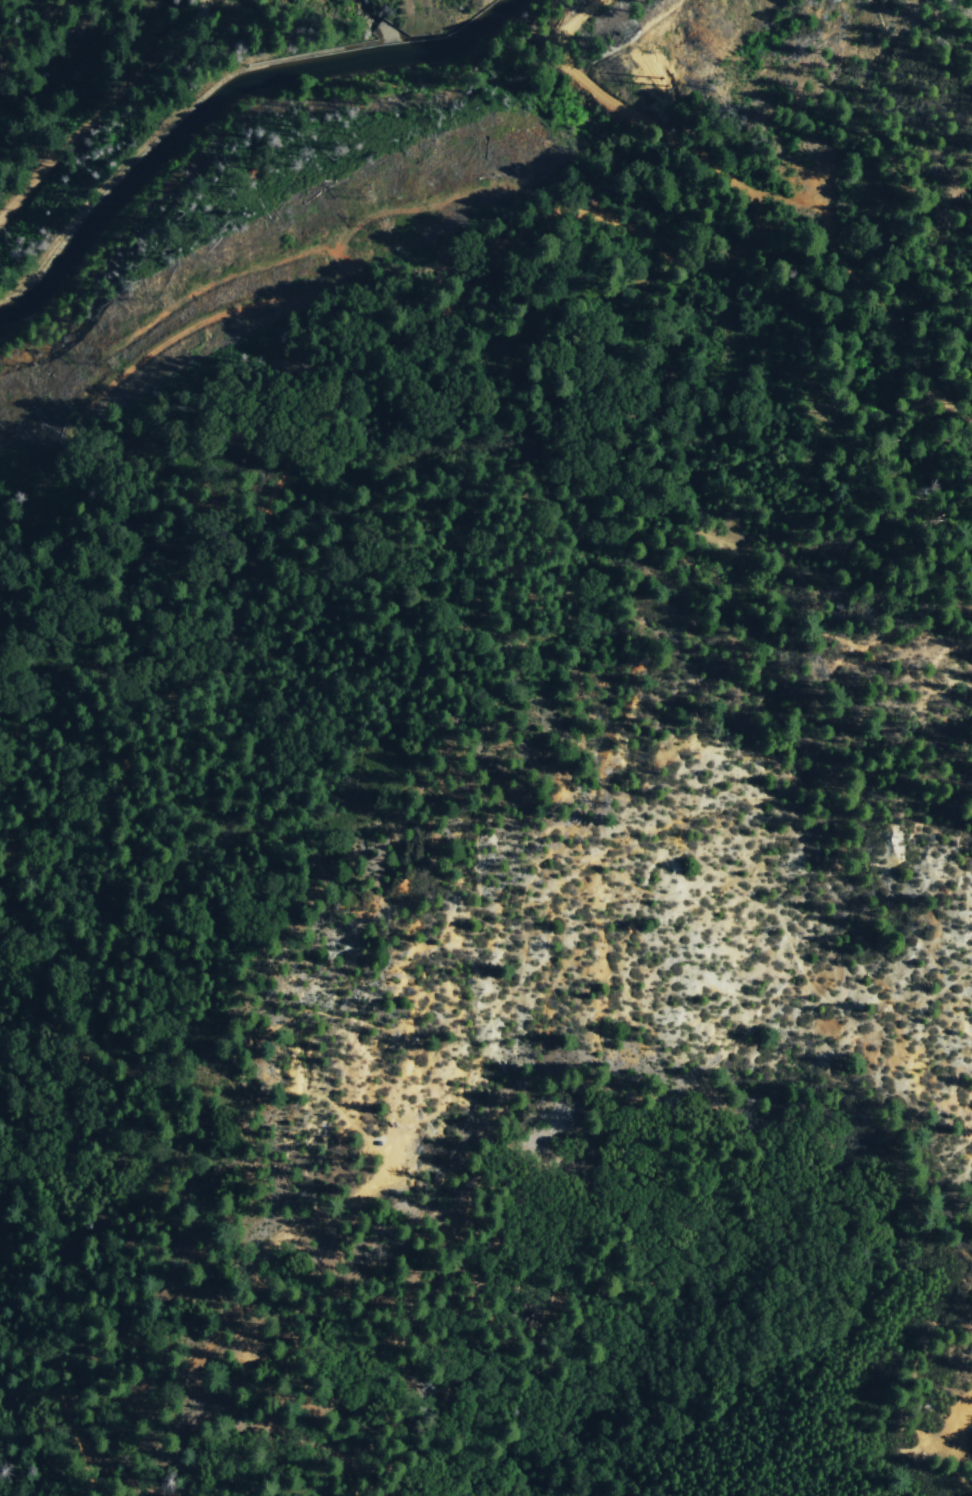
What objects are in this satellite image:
road: (32, 21)
power tower: (622, 65)
power tower: (646, 94)
road: (101, 107)
power tower: (366, 191)
power tower: (382, 223)
road: (513, 236)
power tower: (163, 295)
power tower: (112, 363)
road: (107, 799)

